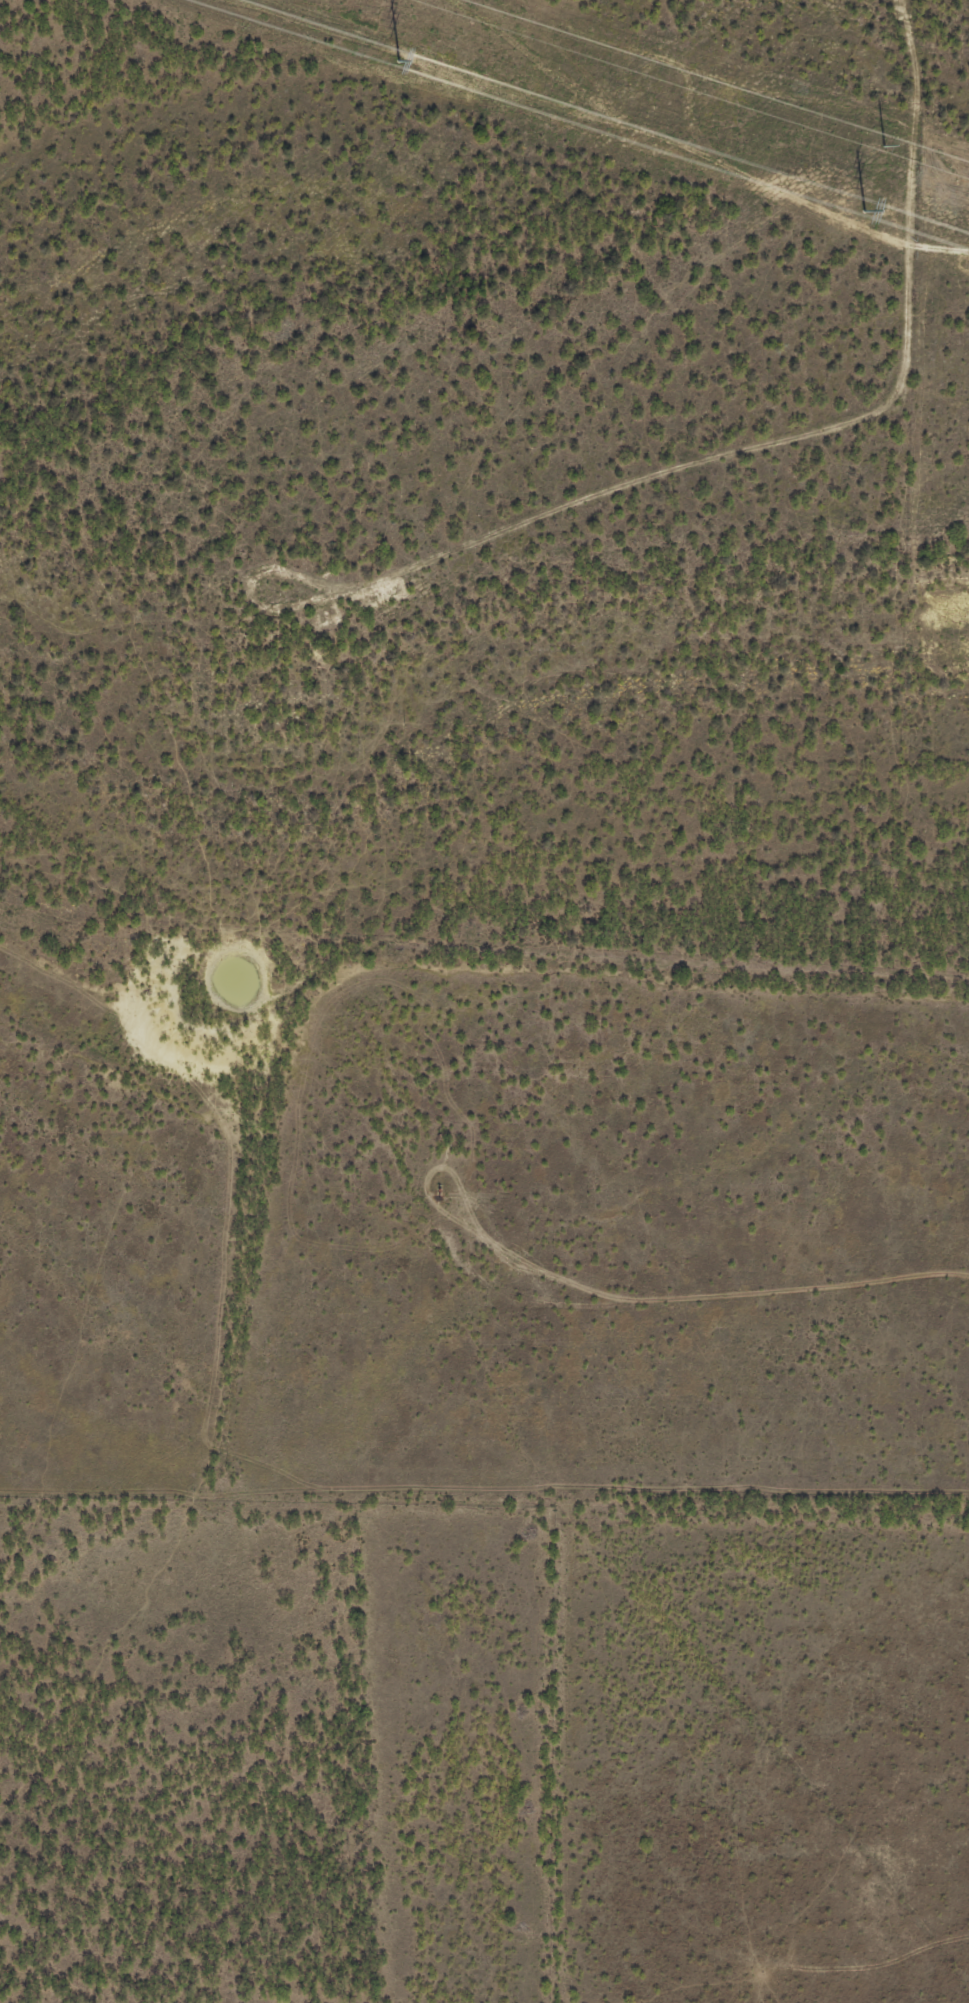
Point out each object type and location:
power tower: (395, 59)
power tower: (886, 149)
power tower: (864, 210)
road: (822, 455)

